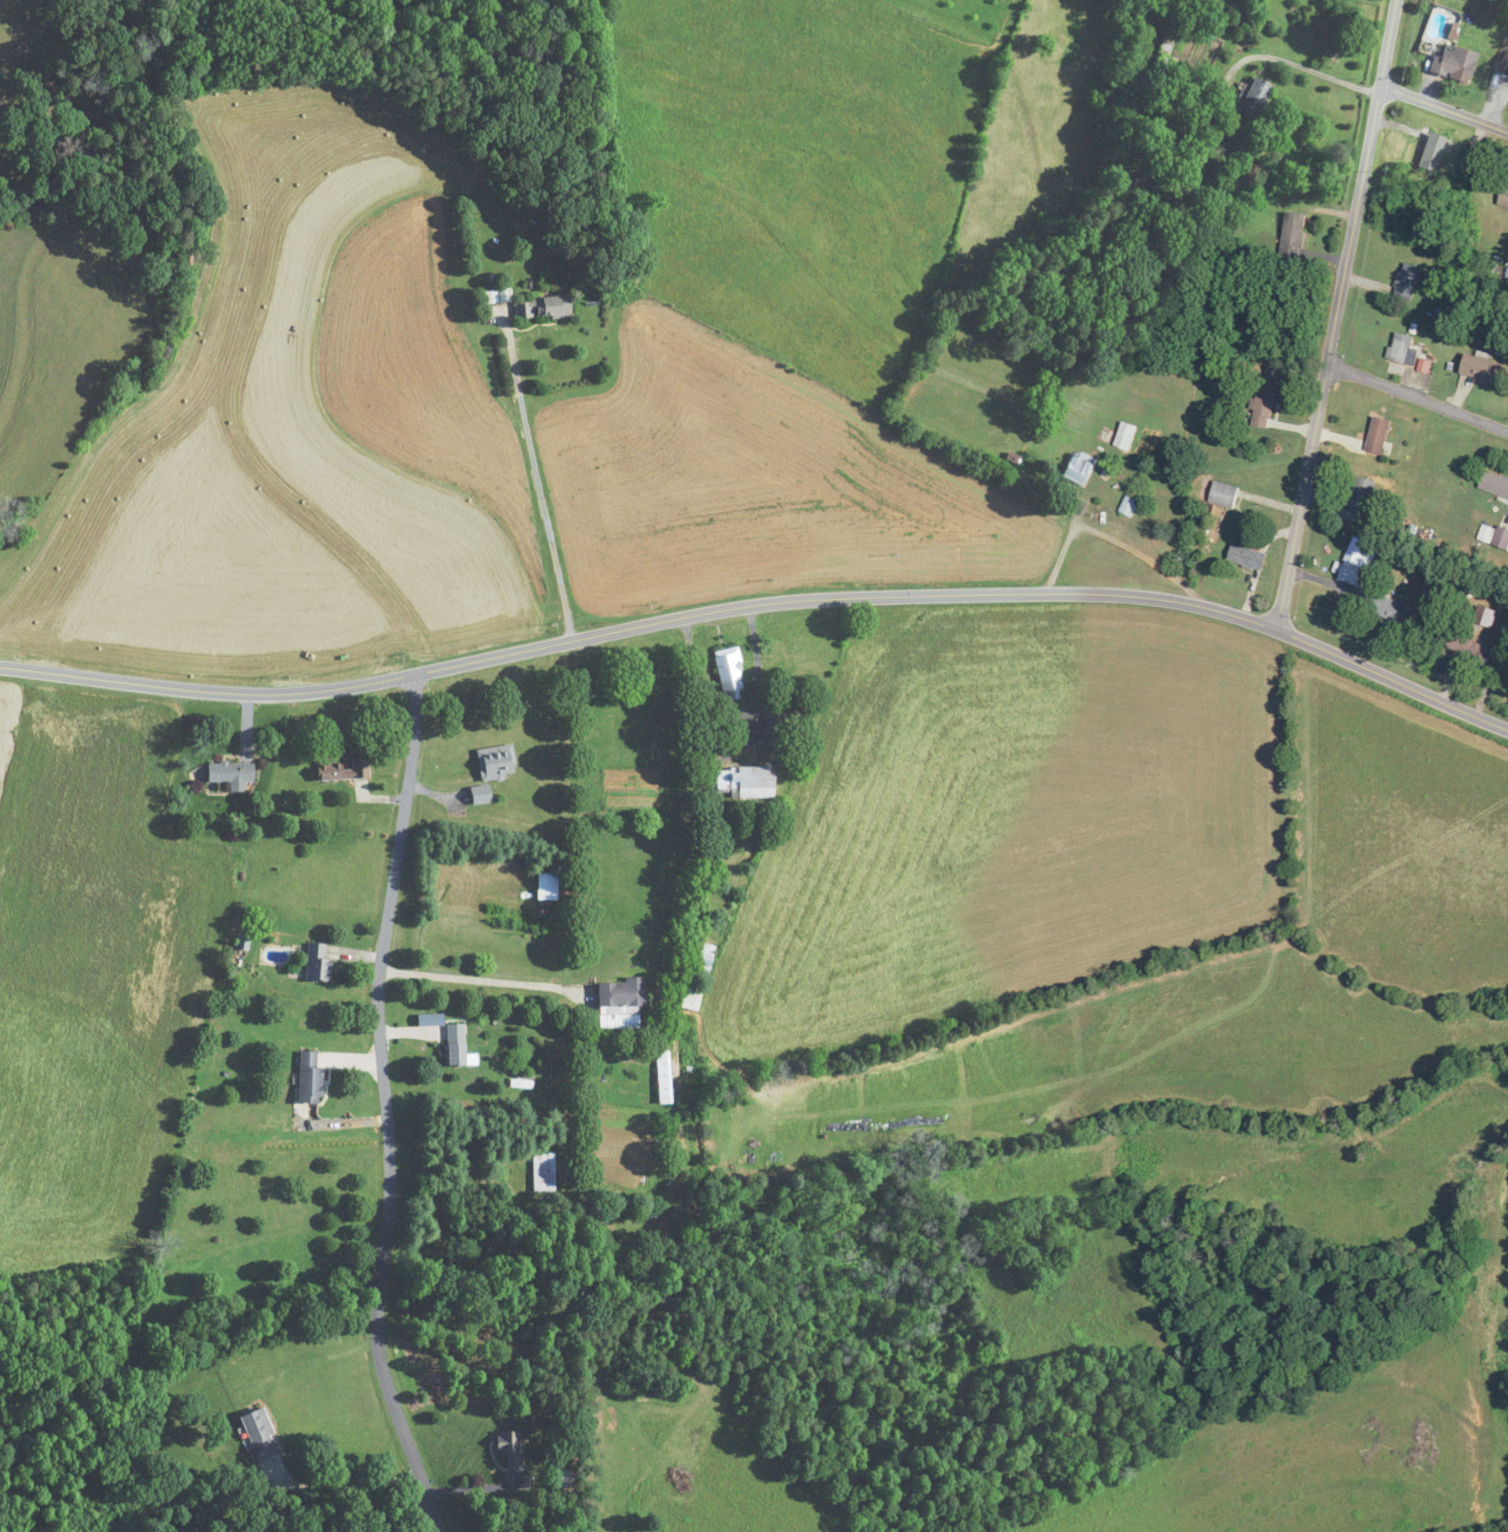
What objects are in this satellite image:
building: (1504, 63)
building: (1455, 64)
building: (1254, 100)
road: (1444, 109)
building: (1431, 152)
building: (1132, 189)
building: (1504, 197)
building: (1295, 234)
building: (1409, 282)
building: (547, 308)
road: (1337, 314)
building: (1403, 348)
building: (1486, 371)
road: (1418, 397)
building: (1264, 407)
building: (1126, 436)
building: (1380, 436)
building: (1080, 468)
road: (539, 480)
building: (1495, 485)
building: (1225, 495)
building: (1363, 495)
building: (1130, 506)
building: (1487, 534)
road: (1113, 538)
building: (1502, 539)
building: (1252, 559)
road: (761, 604)
building: (1392, 610)
building: (1466, 643)
building: (730, 673)
building: (496, 762)
building: (343, 768)
building: (230, 772)
building: (745, 781)
building: (481, 794)
building: (703, 958)
building: (317, 962)
road: (470, 979)
building: (622, 995)
building: (455, 1043)
building: (309, 1076)
building: (663, 1076)
road: (385, 1107)
building: (543, 1171)
building: (260, 1434)
building: (510, 1447)
road: (351, 1483)
road: (474, 1488)

